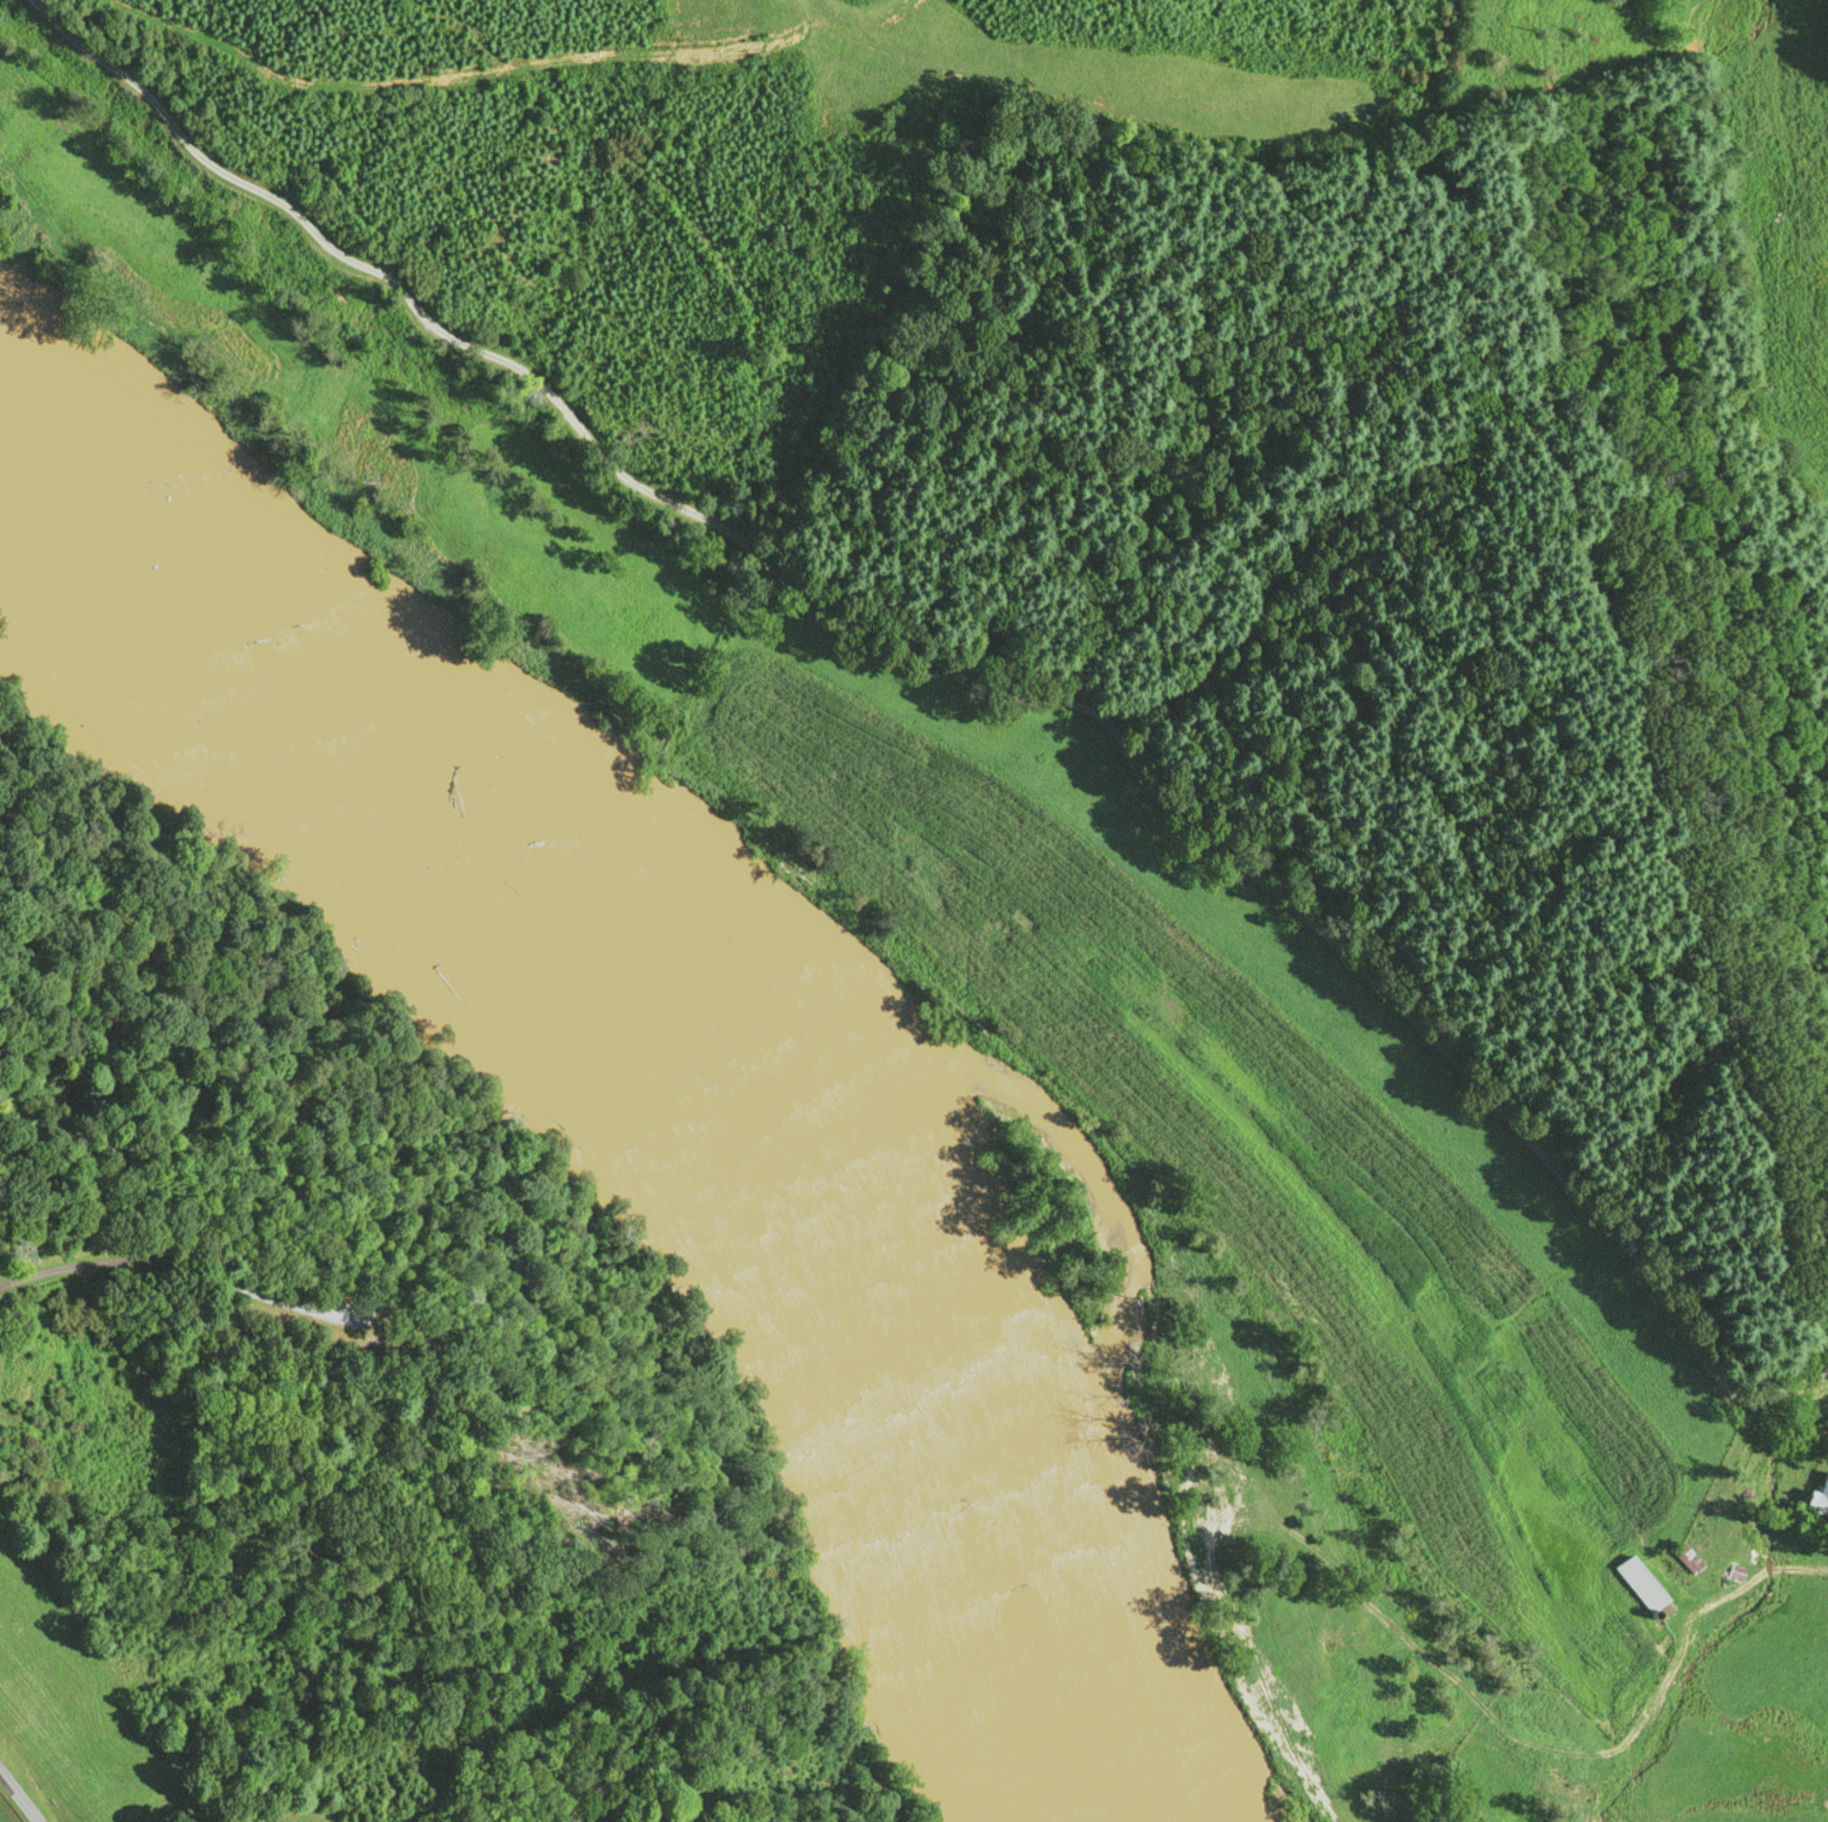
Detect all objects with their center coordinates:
road: (966, 684)
river: (623, 1077)
road: (85, 1261)
building: (1818, 1498)
building: (1685, 1557)
building: (1639, 1583)
road: (19, 1797)

